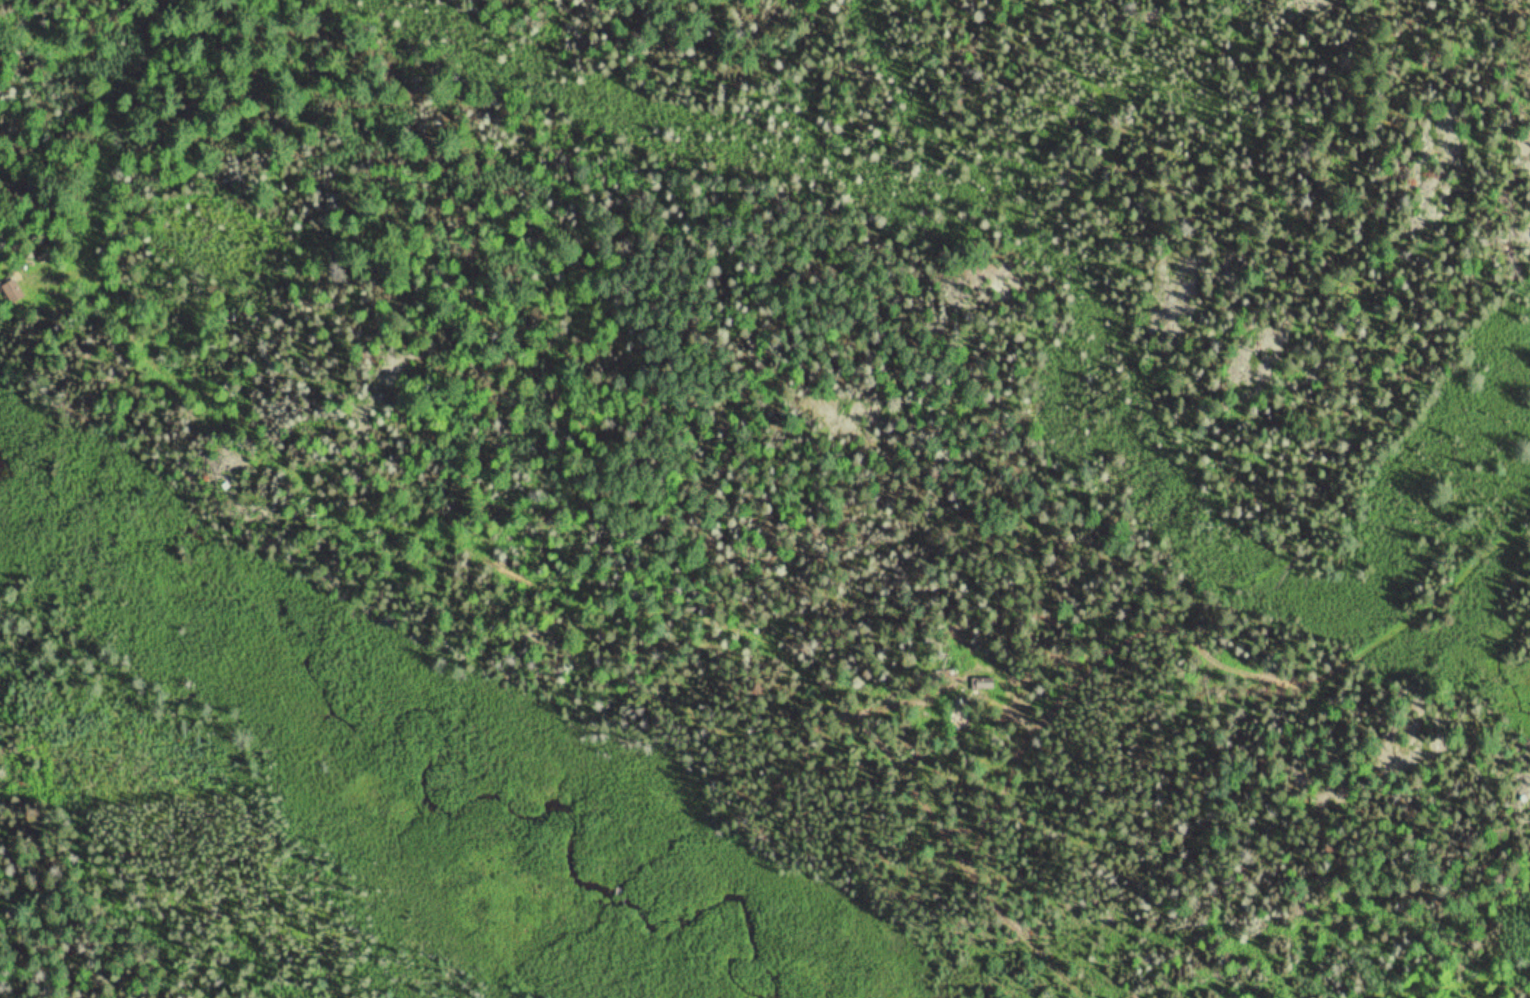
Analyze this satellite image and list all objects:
building: (17, 289)
road: (1421, 611)
road: (1430, 987)
road: (1091, 995)

